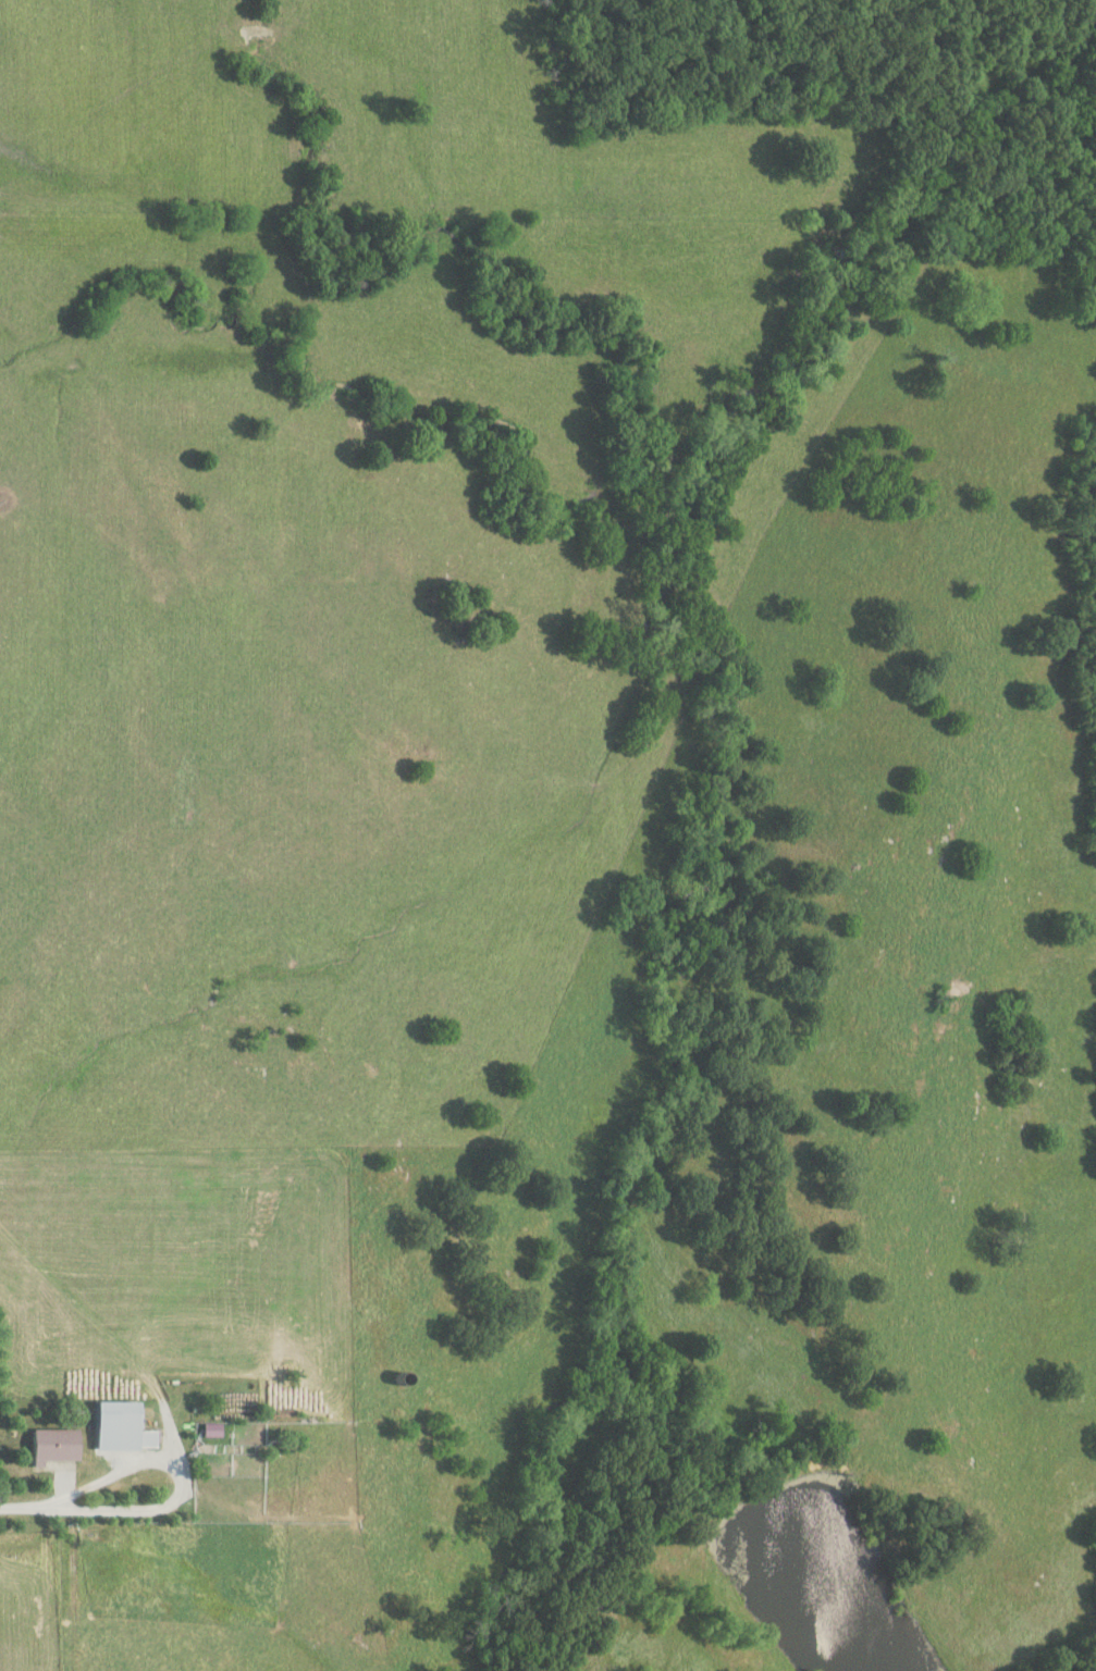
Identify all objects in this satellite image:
building: (119, 1428)
building: (51, 1449)

